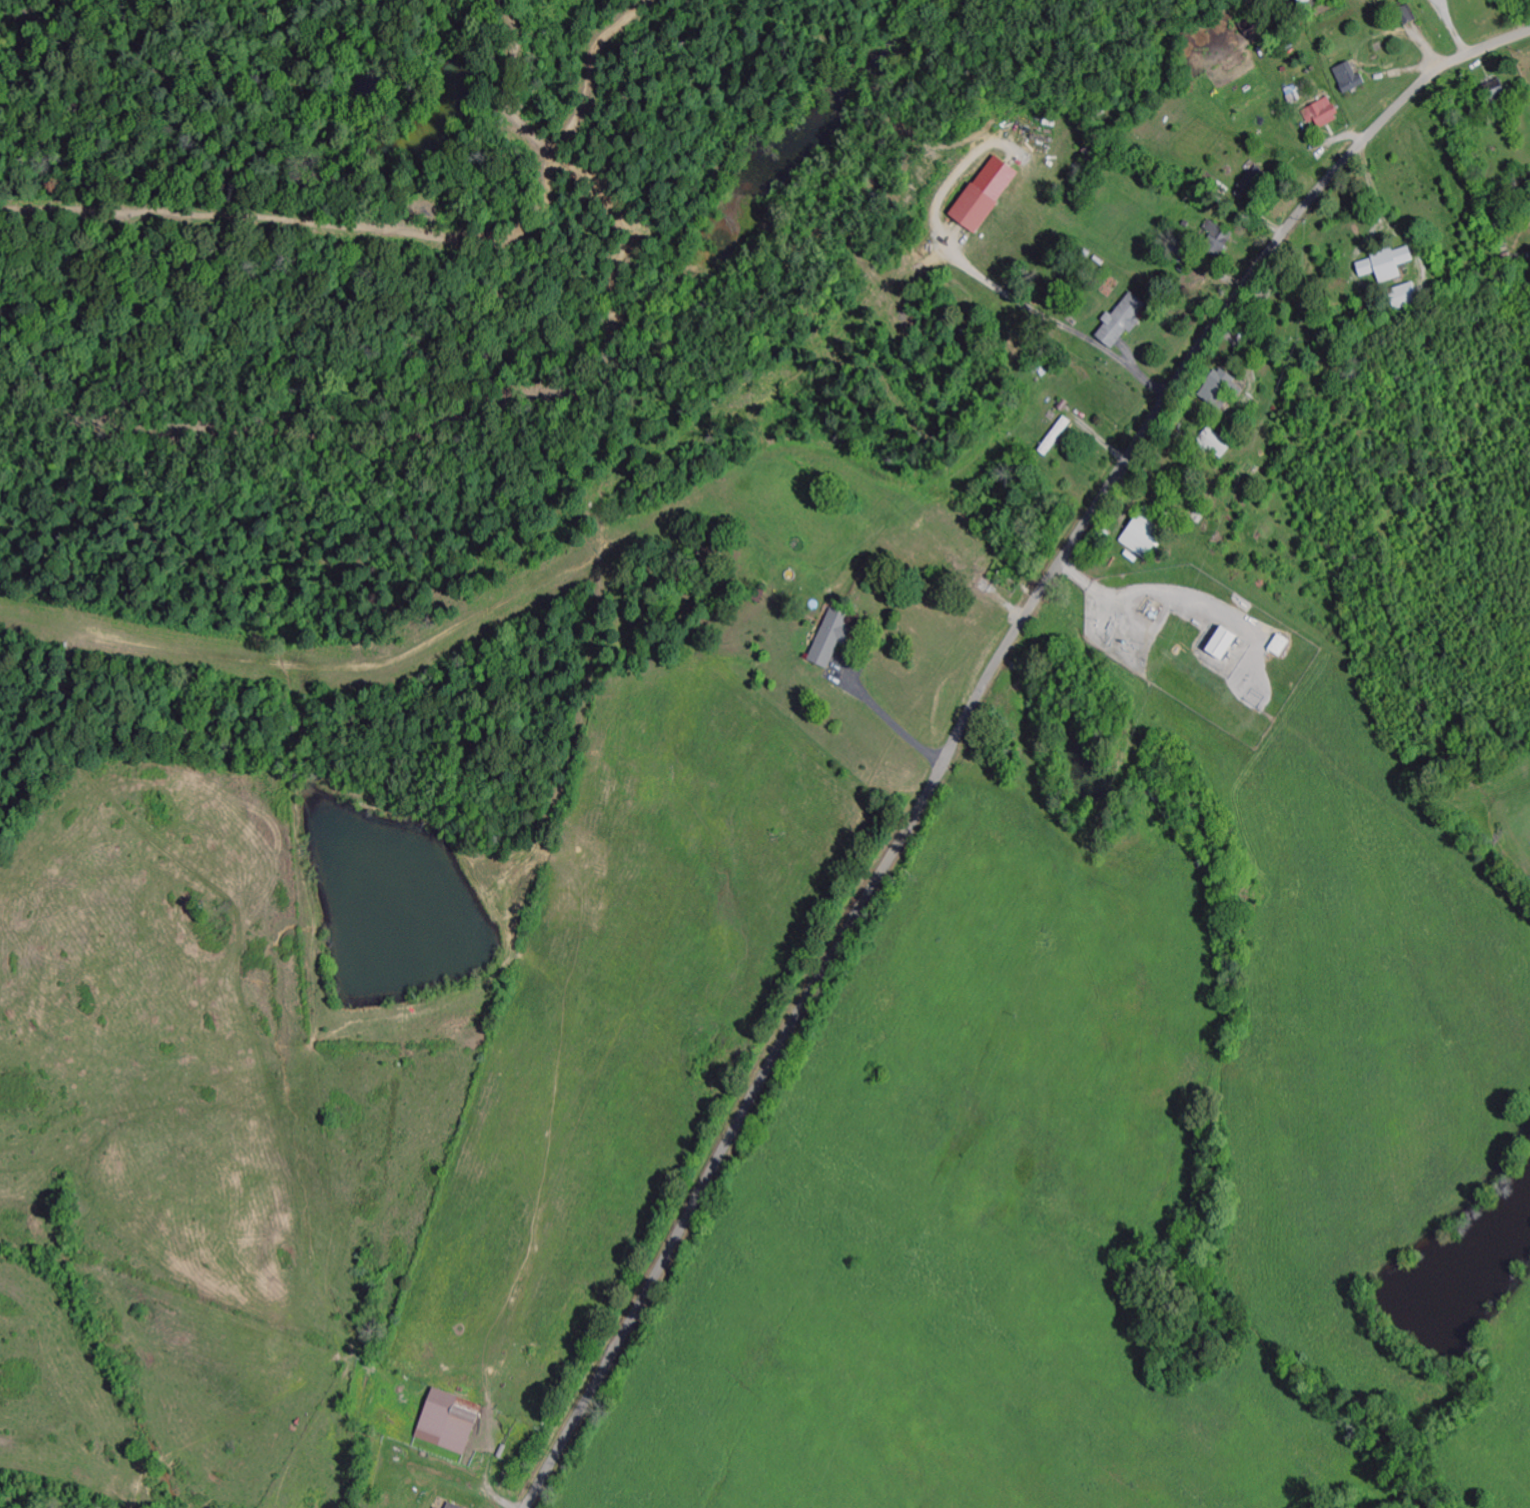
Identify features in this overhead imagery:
building: (1405, 16)
building: (1349, 78)
building: (1495, 93)
building: (1321, 113)
building: (1254, 181)
building: (983, 194)
building: (1217, 237)
building: (1385, 264)
building: (1403, 295)
building: (1121, 319)
building: (1220, 388)
building: (1054, 436)
building: (1215, 442)
building: (1144, 532)
building: (830, 638)
building: (1220, 643)
building: (1279, 645)
road: (967, 718)
road: (994, 1055)
building: (447, 1421)
building: (451, 1506)

